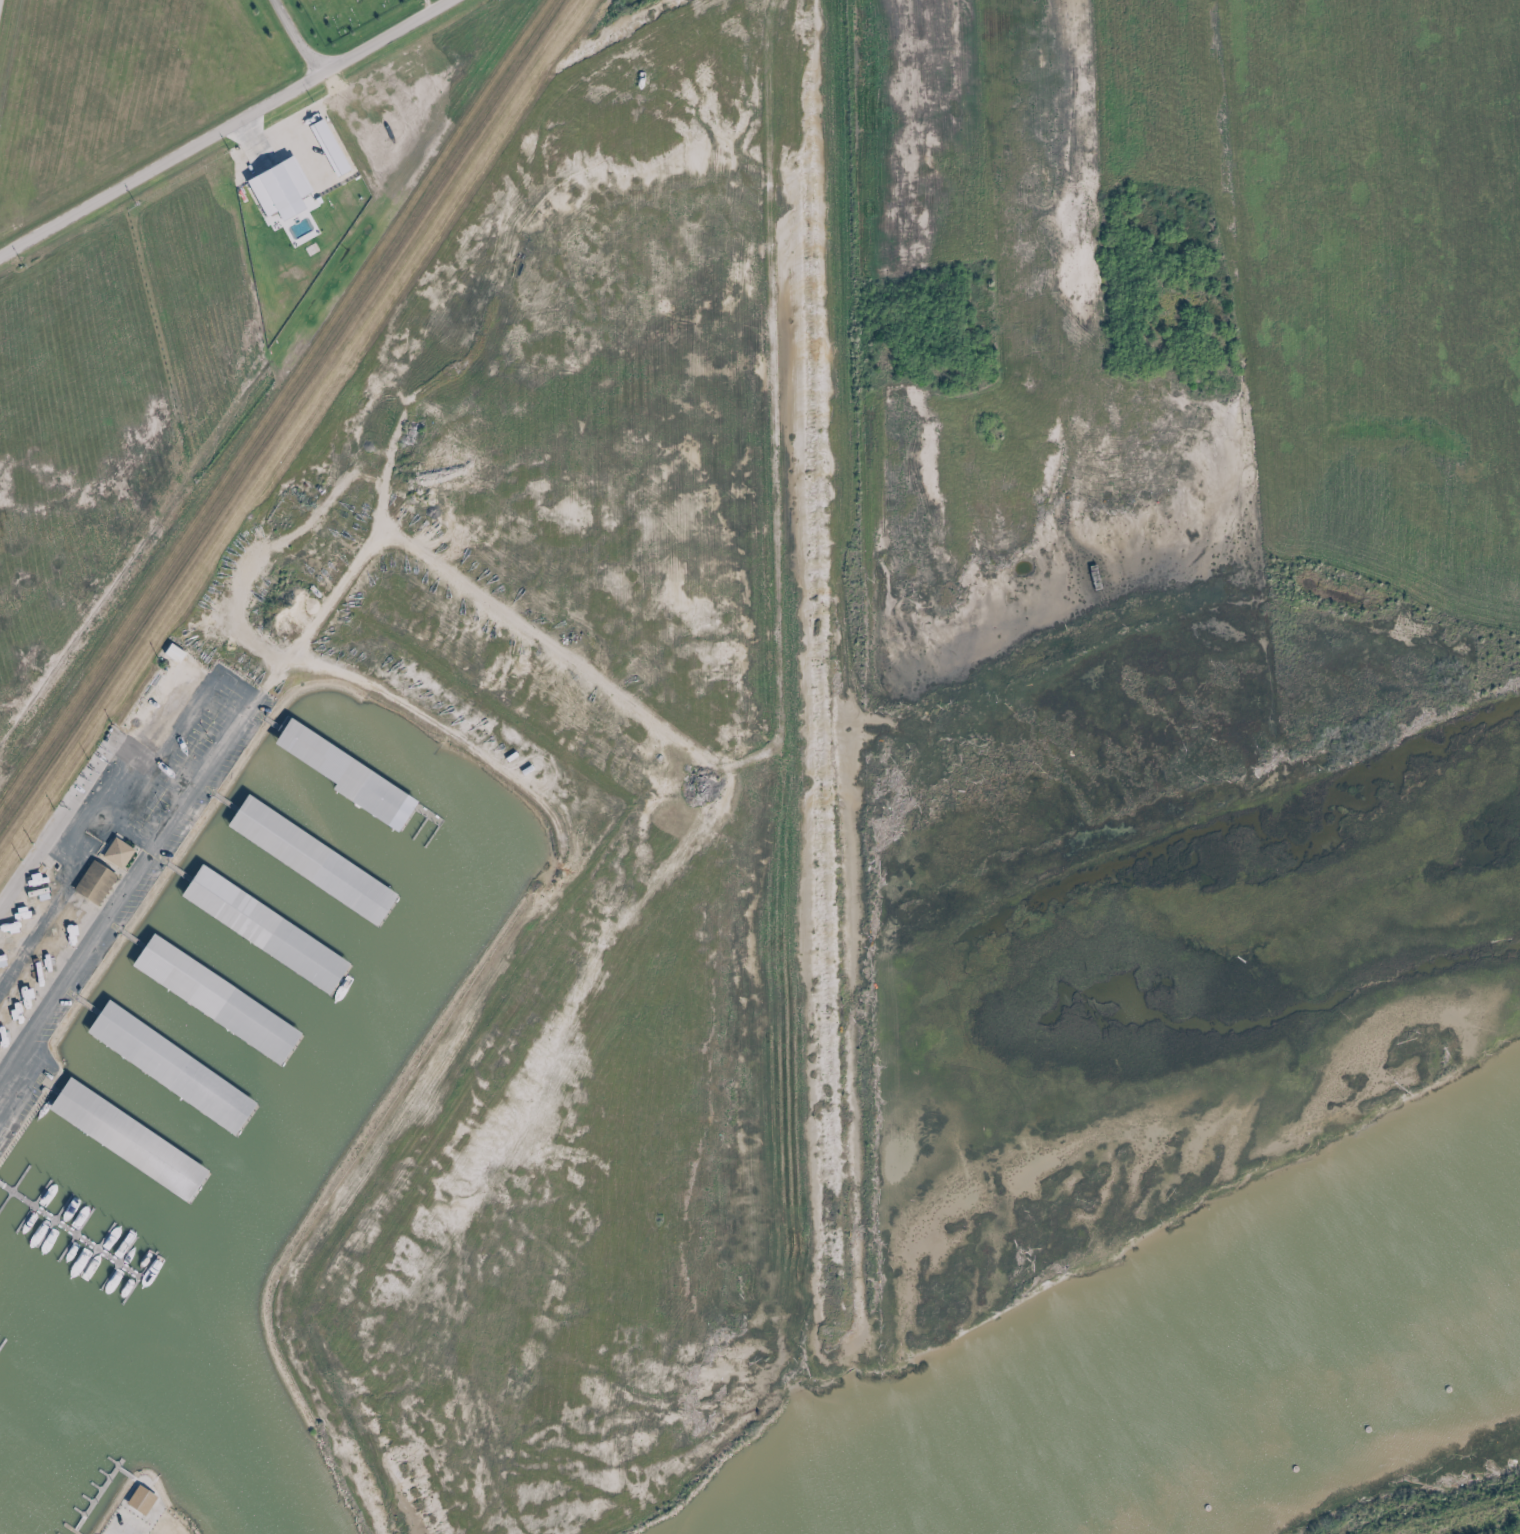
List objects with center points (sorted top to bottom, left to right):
park: (343, 15)
road: (298, 36)
road: (222, 127)
building: (168, 653)
road: (780, 715)
building: (339, 776)
building: (111, 853)
building: (305, 858)
building: (89, 883)
road: (128, 891)
building: (257, 929)
building: (210, 998)
building: (164, 1067)
building: (121, 1139)
pier: (14, 1187)
pier: (32, 1206)
pier: (54, 1220)
pier: (69, 1230)
pier: (74, 1234)
pier: (96, 1248)
pier: (118, 1264)
pier: (138, 1277)
road: (128, 1512)

